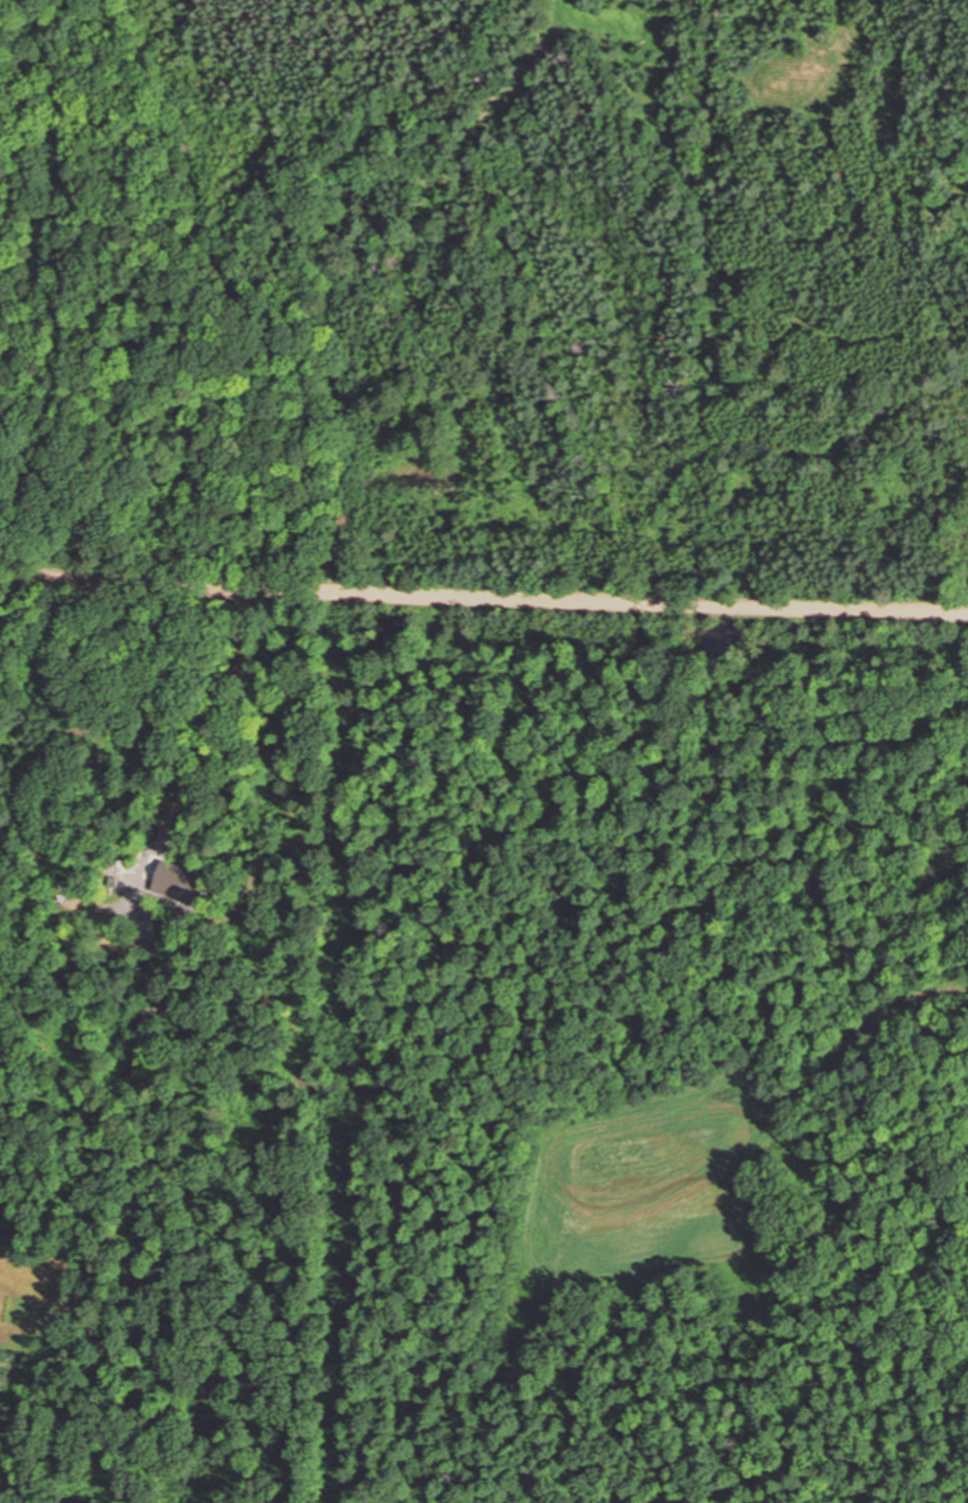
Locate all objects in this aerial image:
road: (483, 599)

